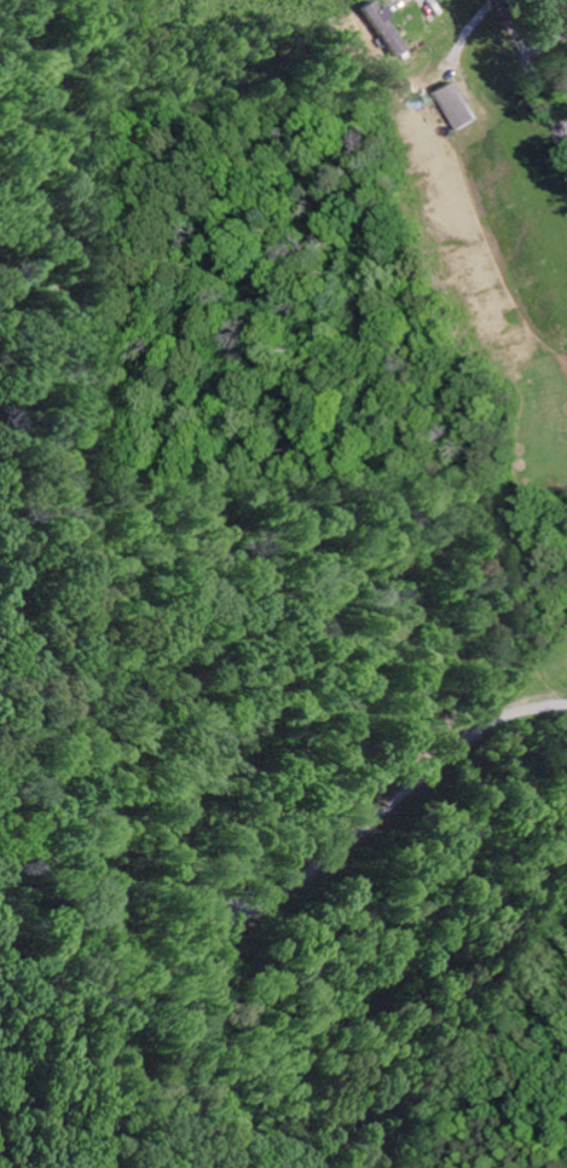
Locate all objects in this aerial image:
building: (384, 24)
road: (534, 69)
building: (455, 104)

